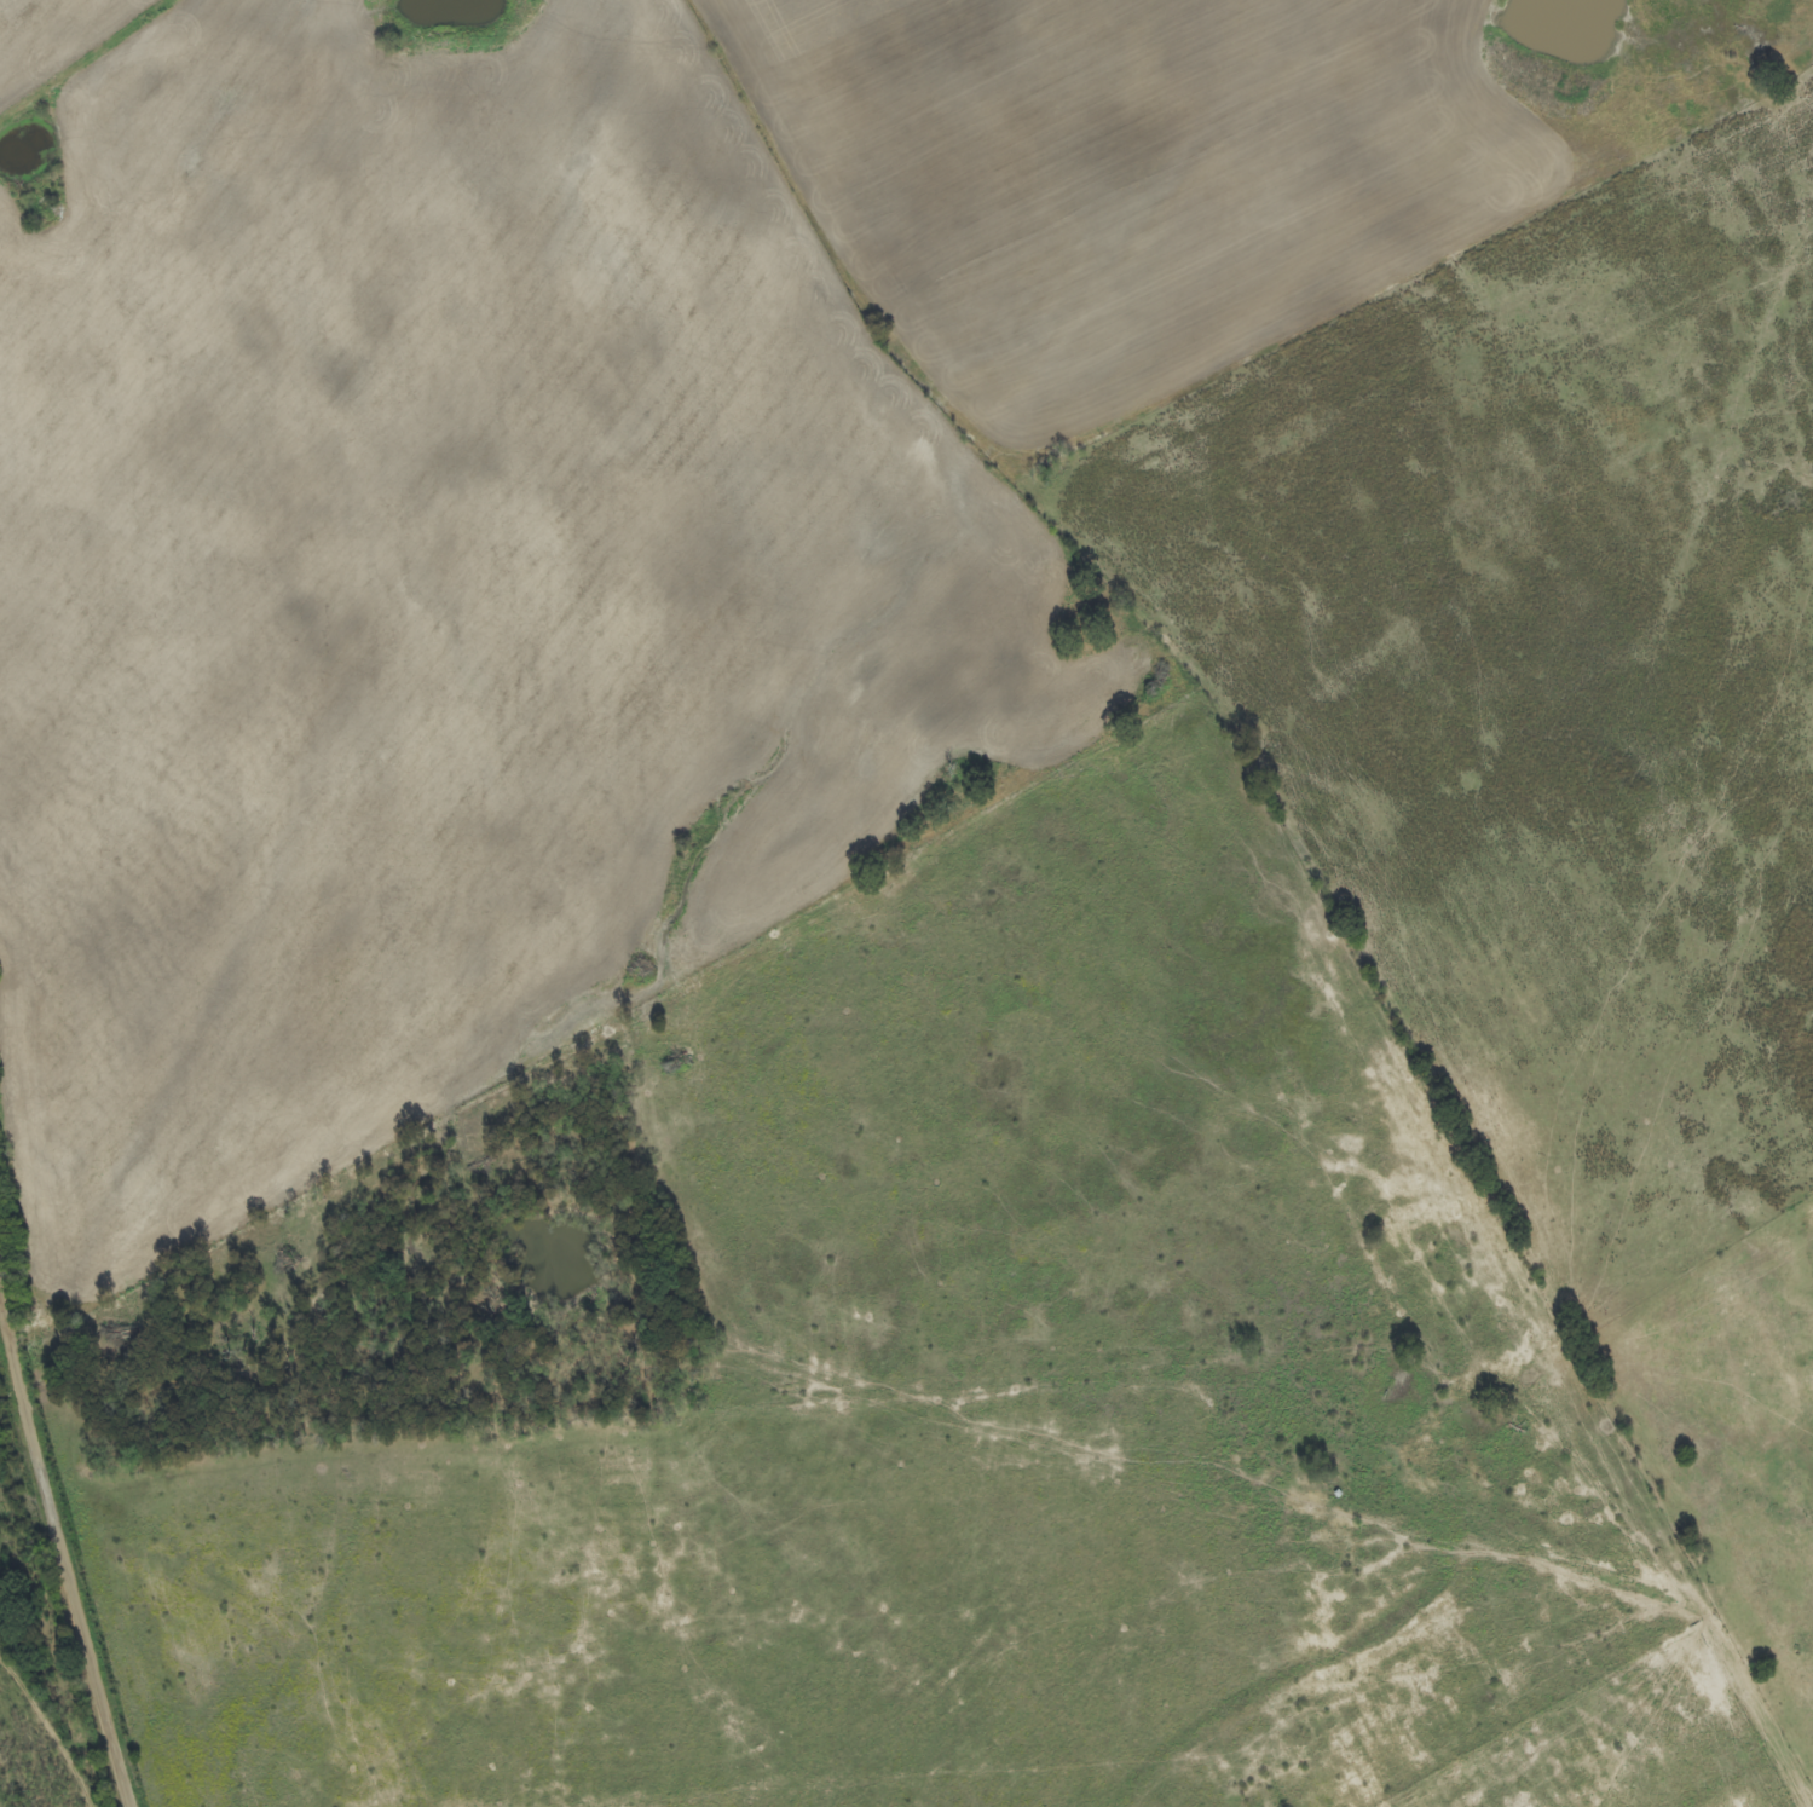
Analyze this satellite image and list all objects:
road: (64, 1530)

